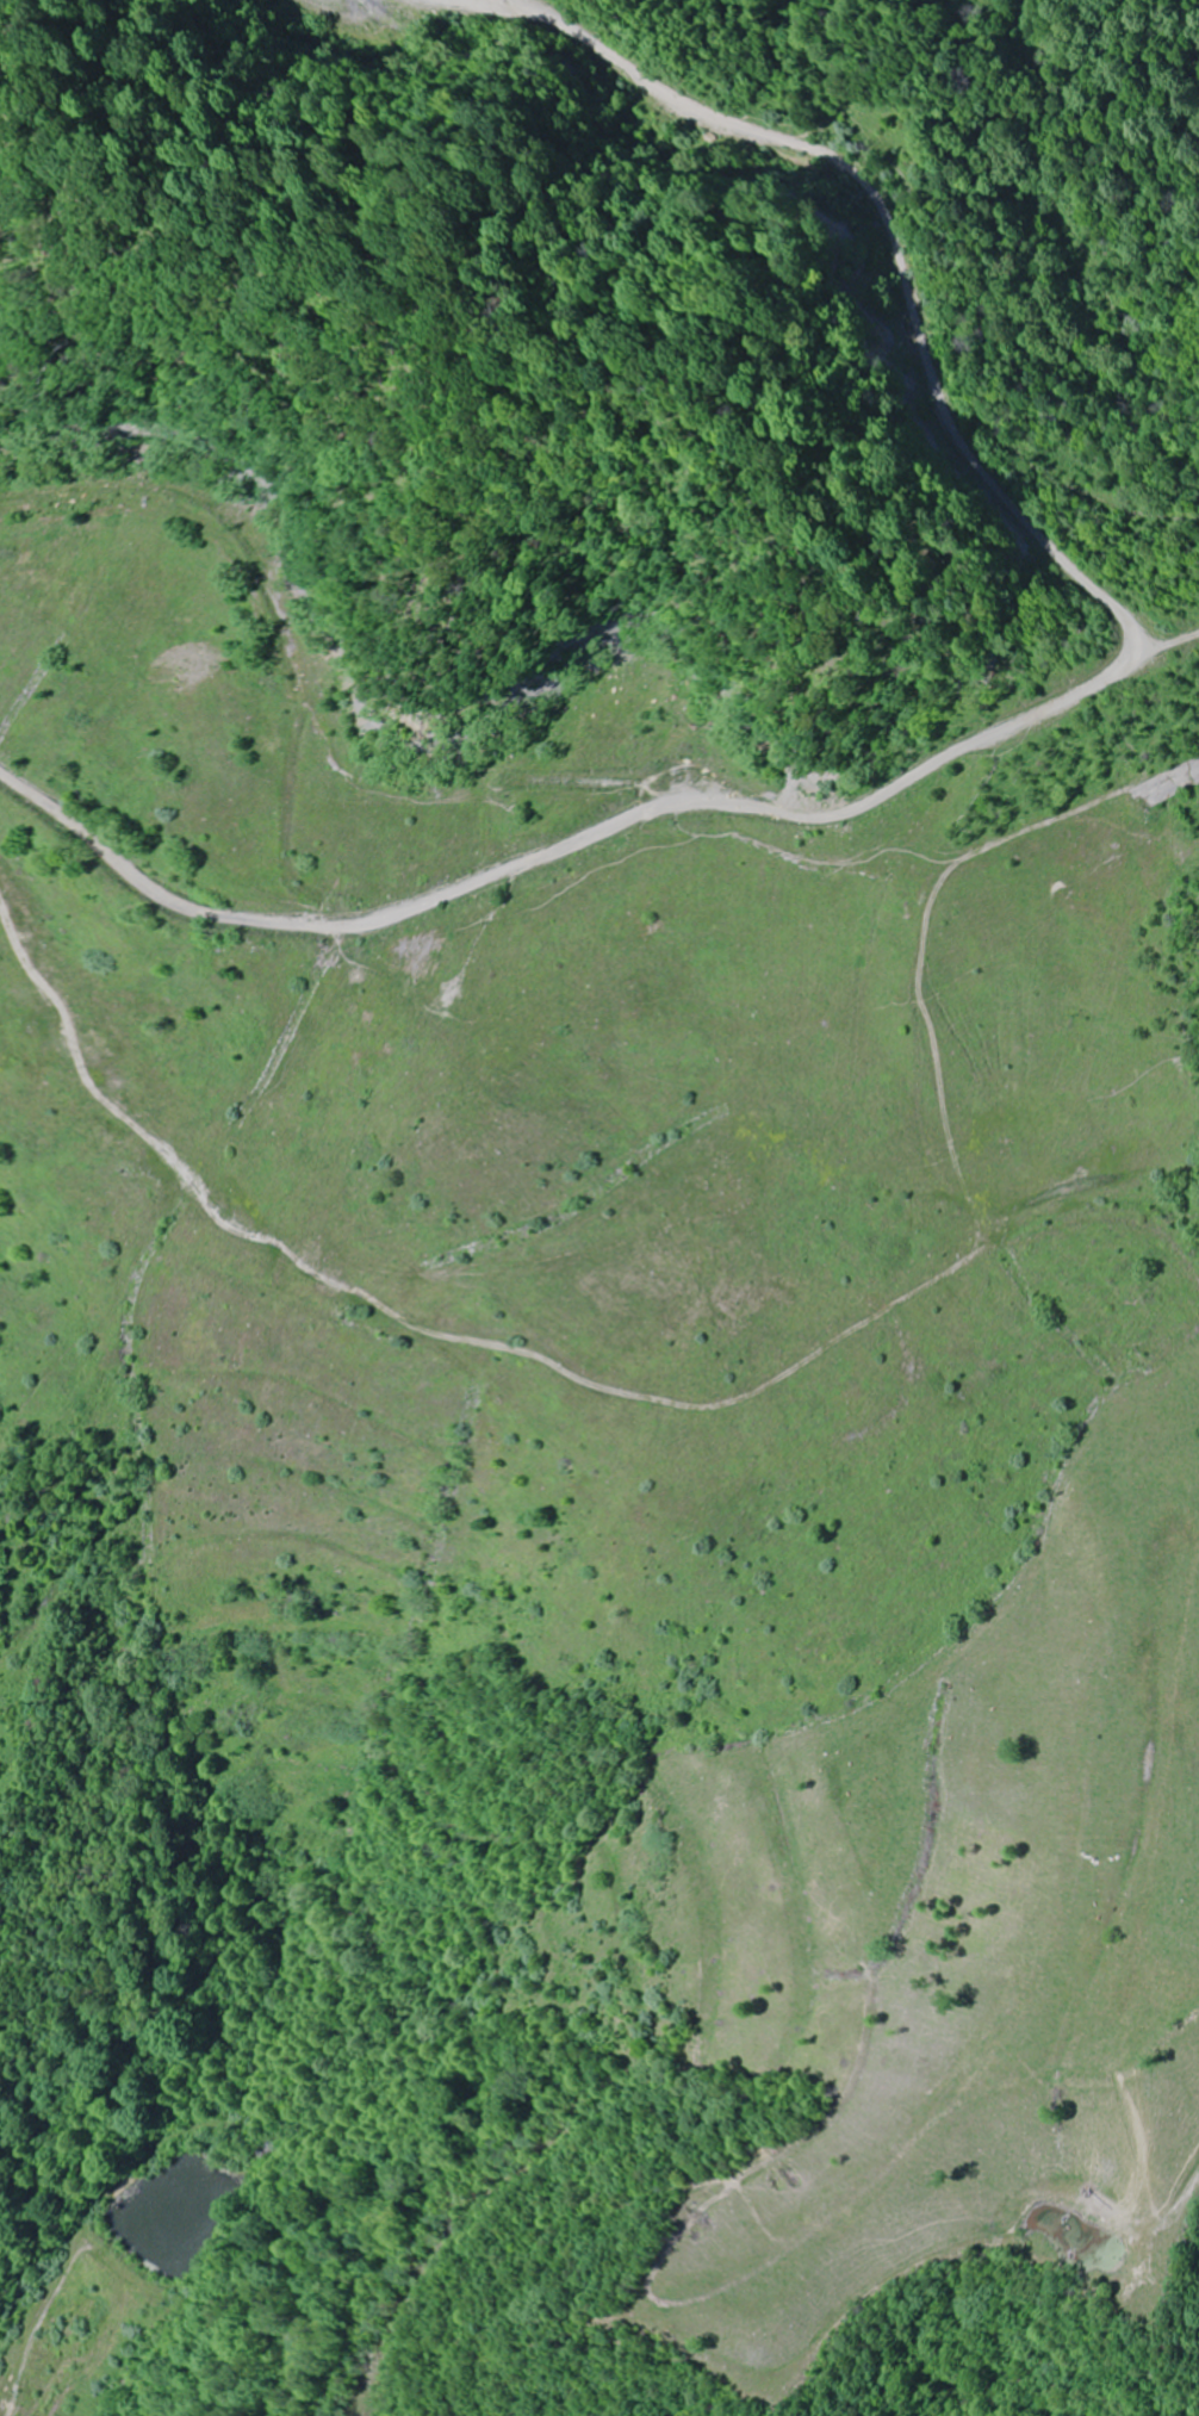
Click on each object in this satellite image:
road: (620, 815)

